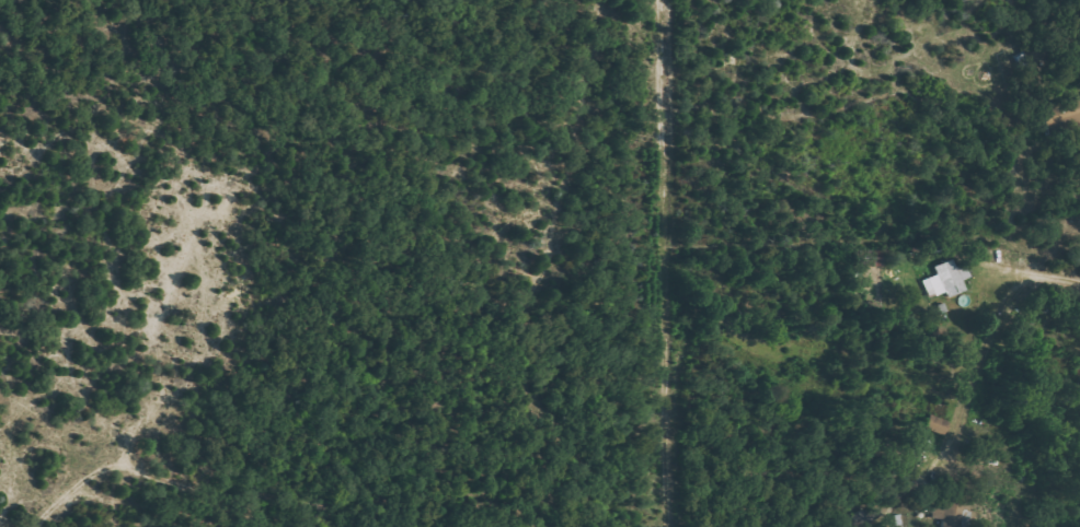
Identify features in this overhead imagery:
building: (1071, 108)
road: (1042, 270)
building: (947, 279)
building: (937, 424)

